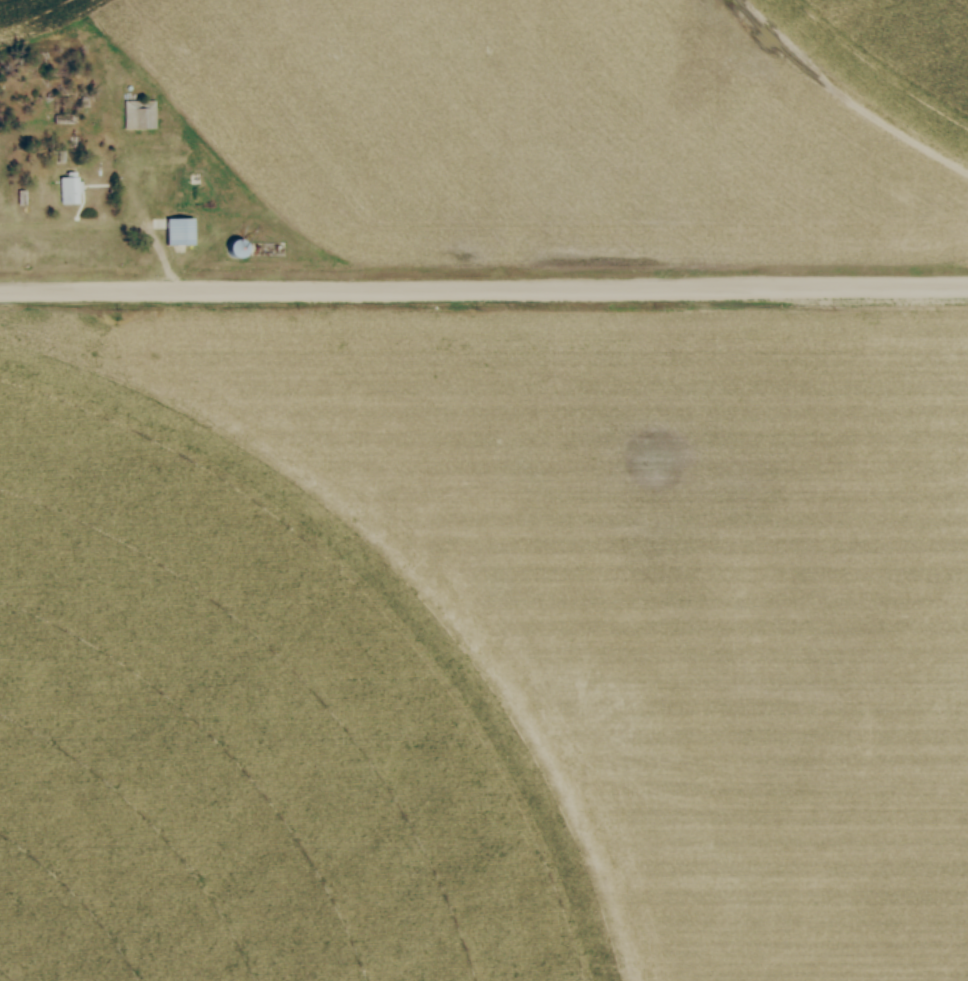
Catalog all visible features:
building: (138, 110)
building: (66, 187)
road: (145, 218)
building: (175, 226)
building: (232, 243)
silo: (232, 243)
road: (484, 292)

